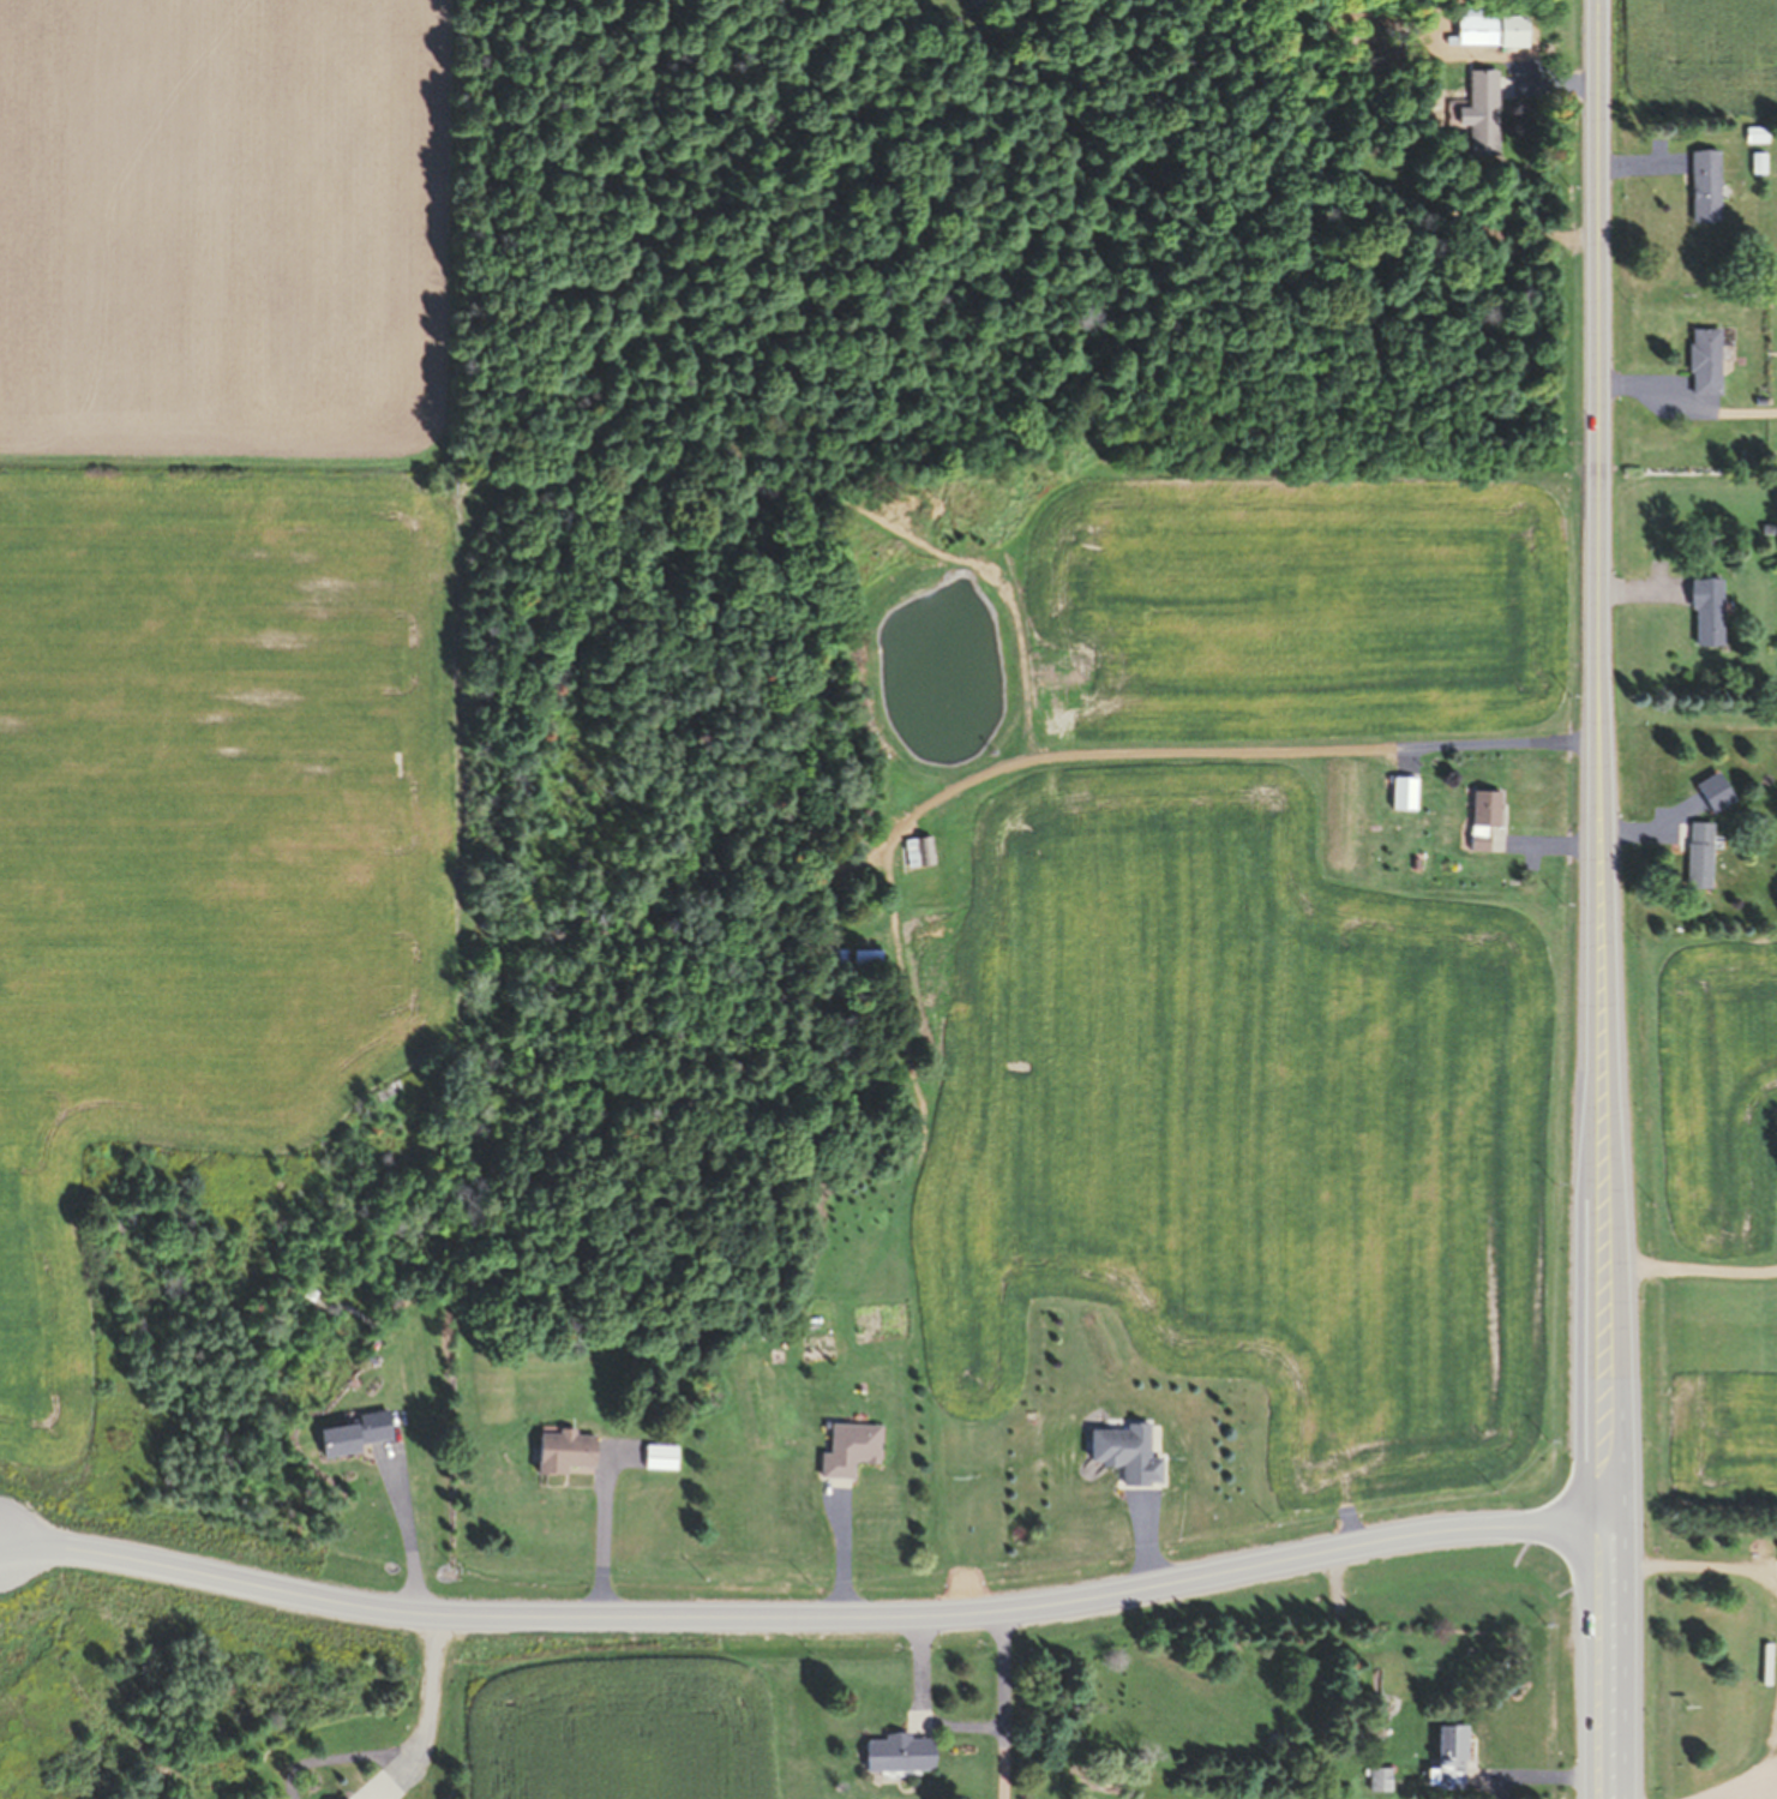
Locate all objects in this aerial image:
building: (1487, 28)
building: (1479, 112)
building: (1752, 134)
building: (1754, 162)
building: (1701, 185)
building: (1700, 361)
road: (1686, 404)
road: (1596, 517)
building: (1703, 610)
road: (1232, 748)
building: (1400, 792)
building: (1479, 816)
building: (915, 851)
building: (1695, 854)
building: (864, 960)
quarry: (203, 1023)
road: (1592, 1417)
road: (1619, 1417)
building: (350, 1434)
building: (846, 1449)
building: (560, 1452)
building: (1123, 1452)
building: (656, 1456)
road: (1148, 1542)
road: (2, 1545)
road: (844, 1554)
road: (811, 1612)
road: (921, 1656)
road: (1001, 1693)
building: (894, 1752)
building: (1445, 1758)
building: (1375, 1779)

